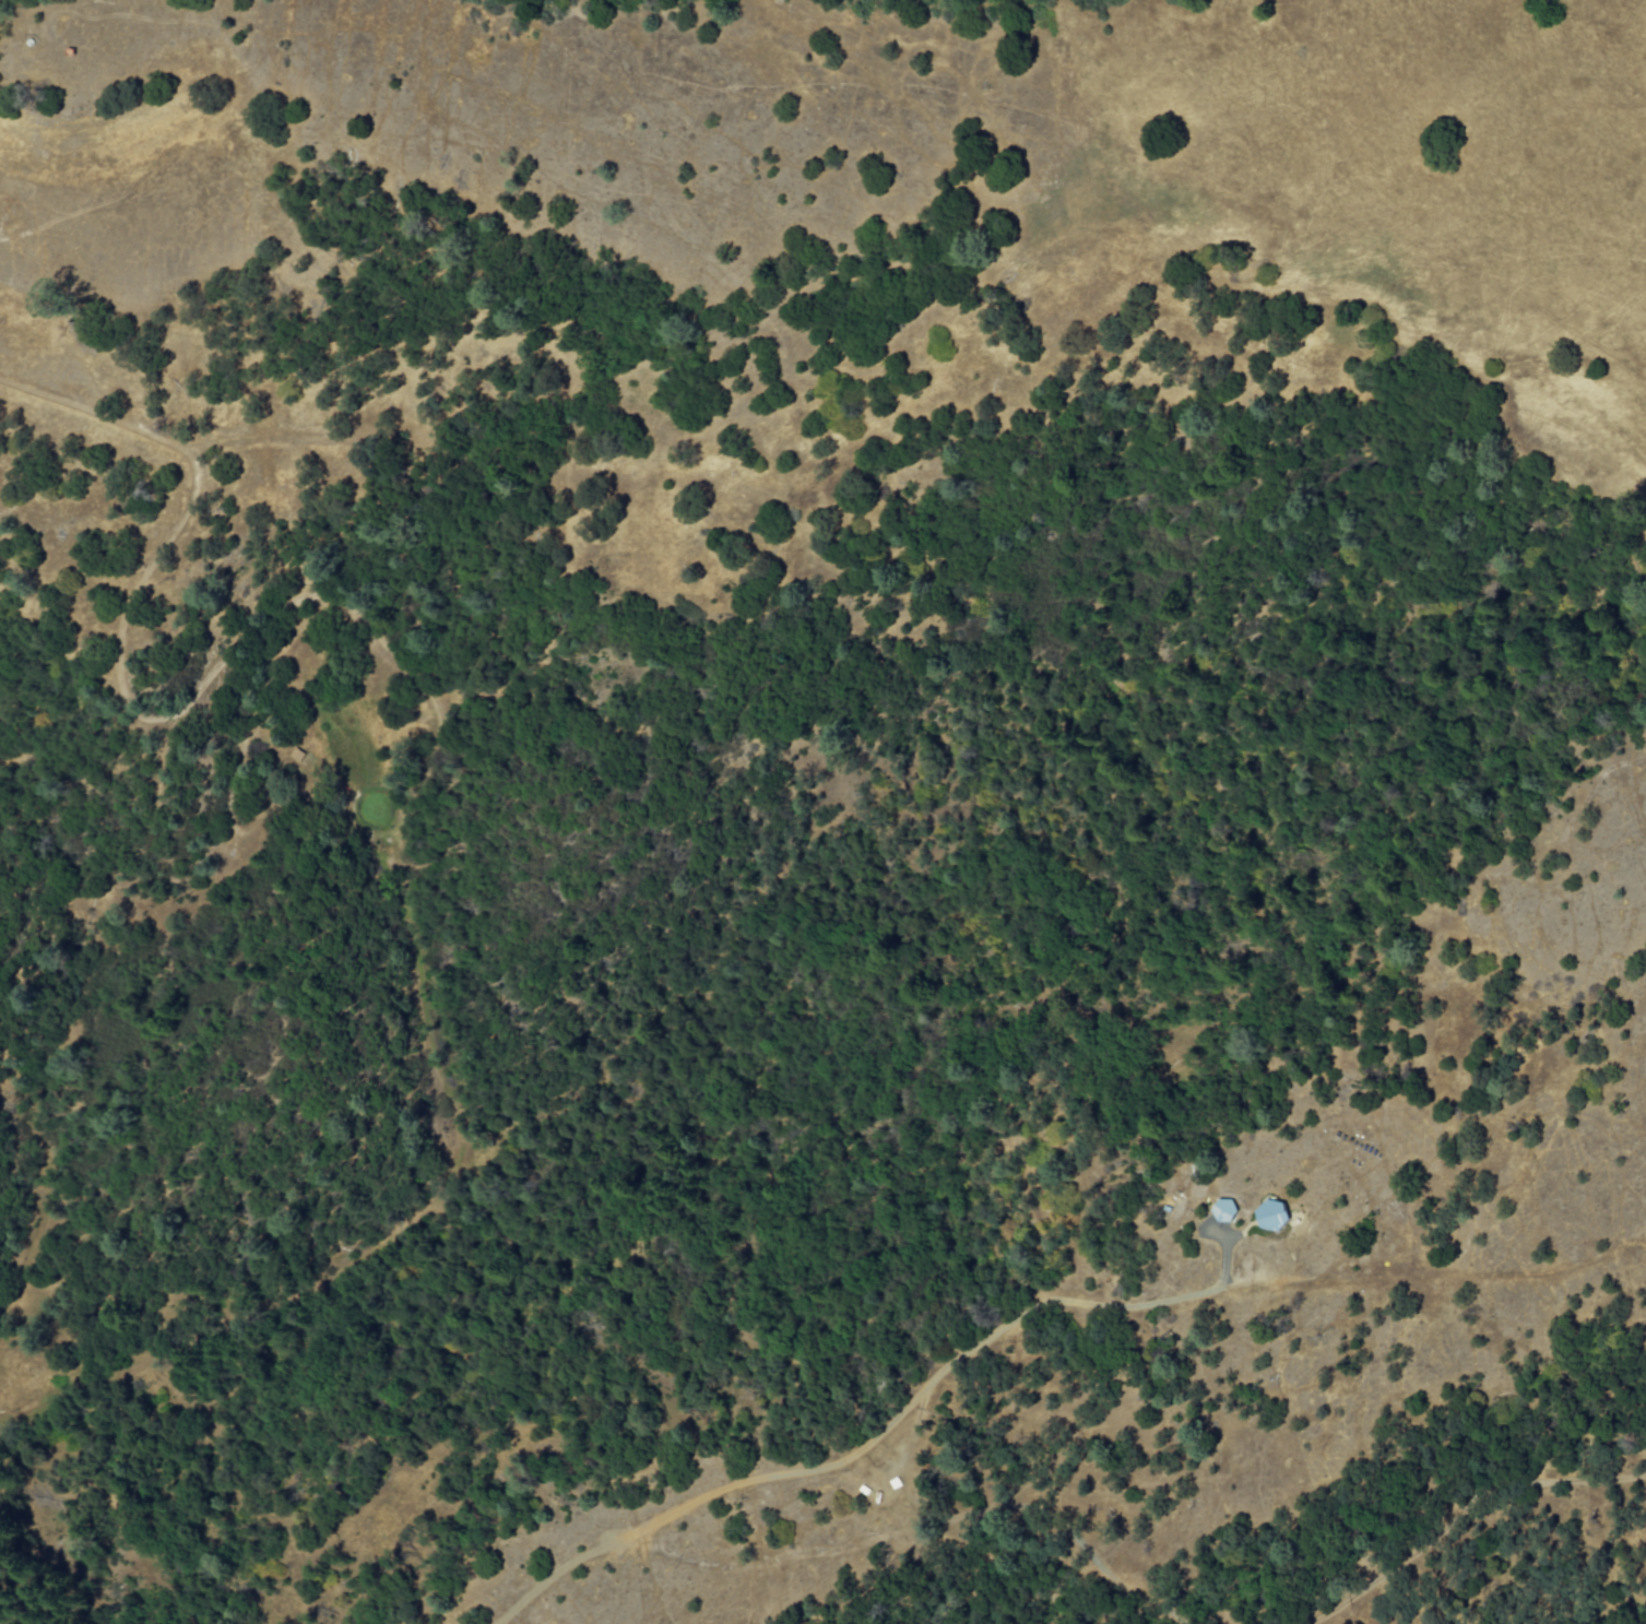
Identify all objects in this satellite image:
building: (1221, 1211)
building: (1268, 1217)
road: (865, 1448)

